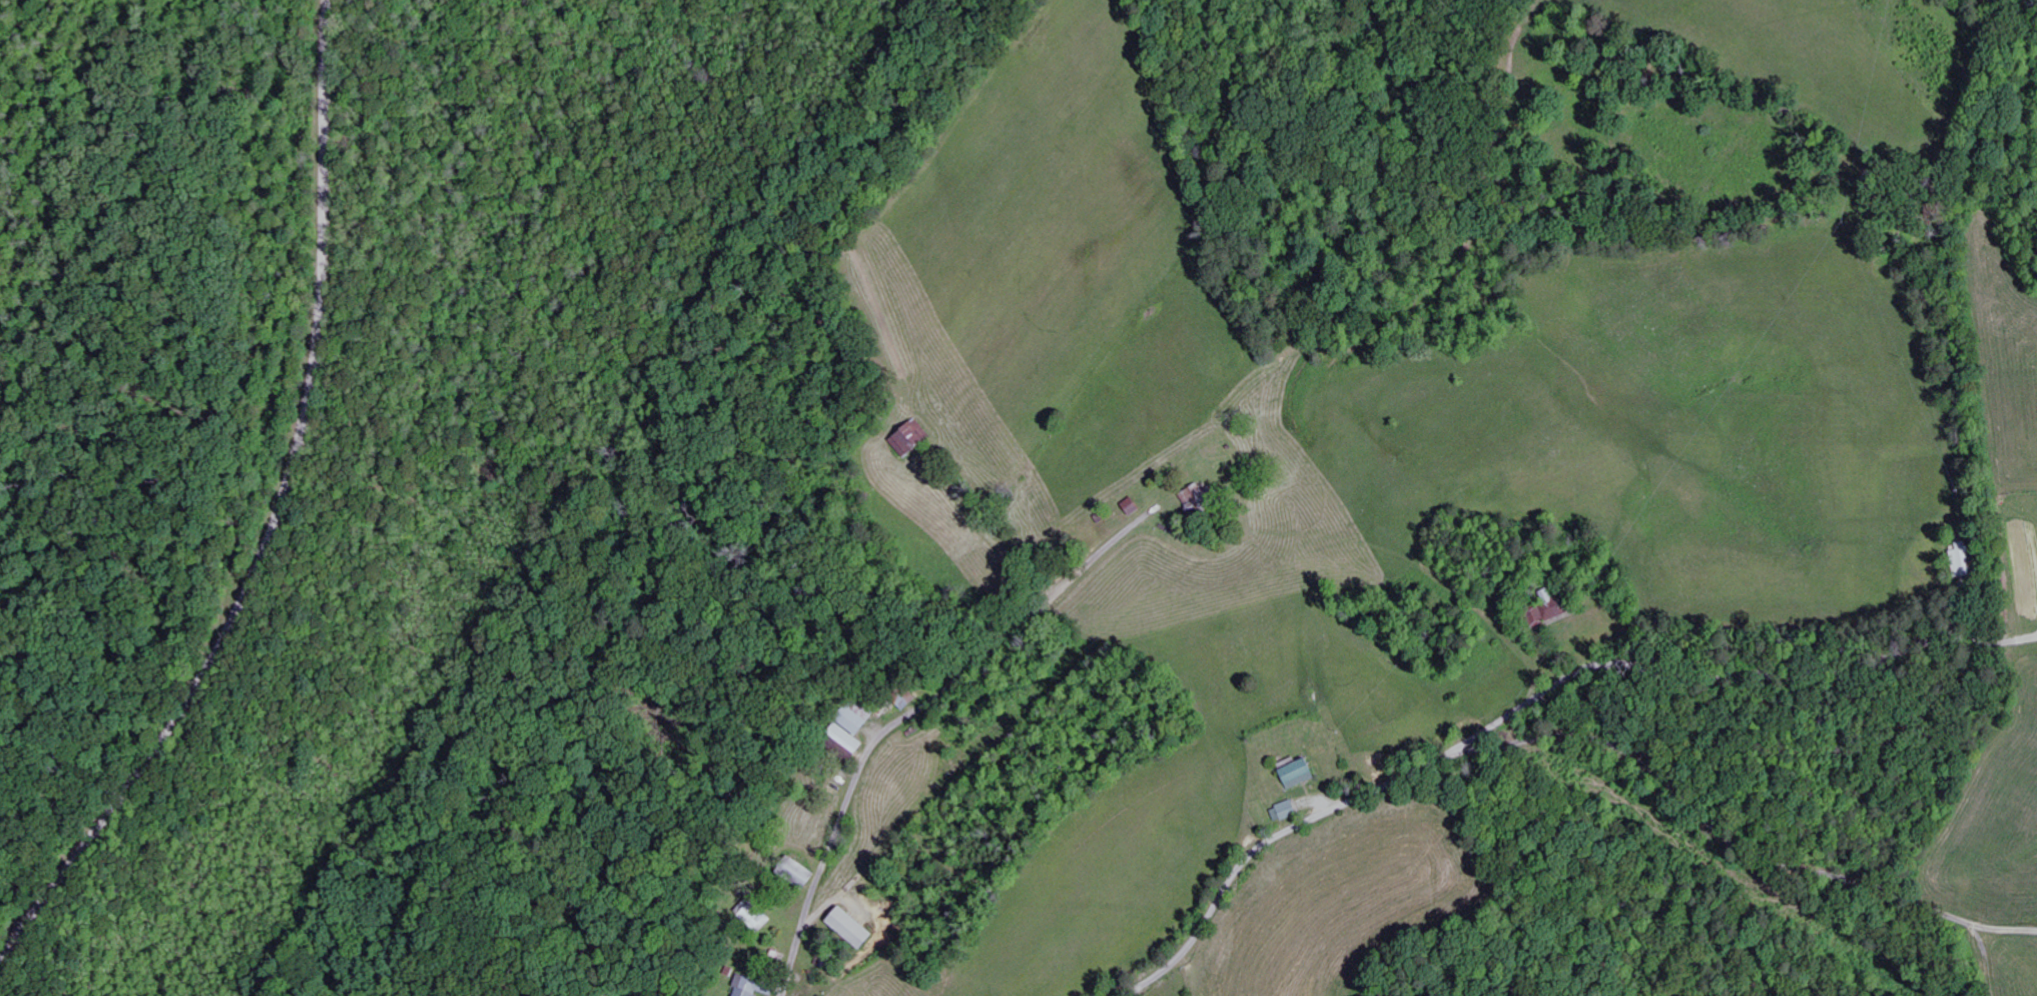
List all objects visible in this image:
building: (914, 440)
road: (276, 519)
building: (1553, 613)
road: (2036, 636)
road: (2036, 638)
road: (1739, 675)
building: (855, 729)
road: (1537, 753)
road: (861, 767)
building: (1302, 775)
building: (1288, 812)
building: (854, 929)
building: (759, 986)

